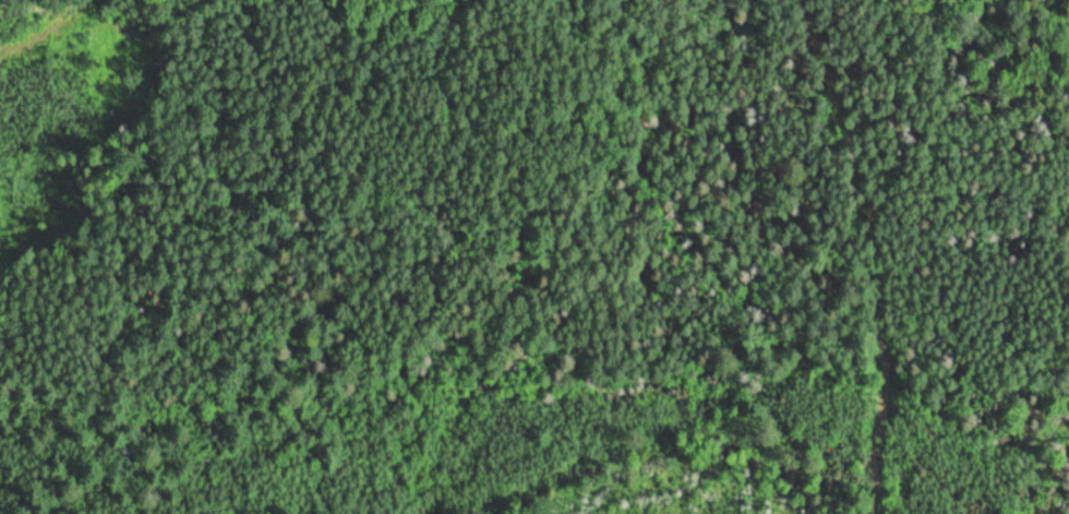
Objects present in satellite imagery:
road: (909, 255)

